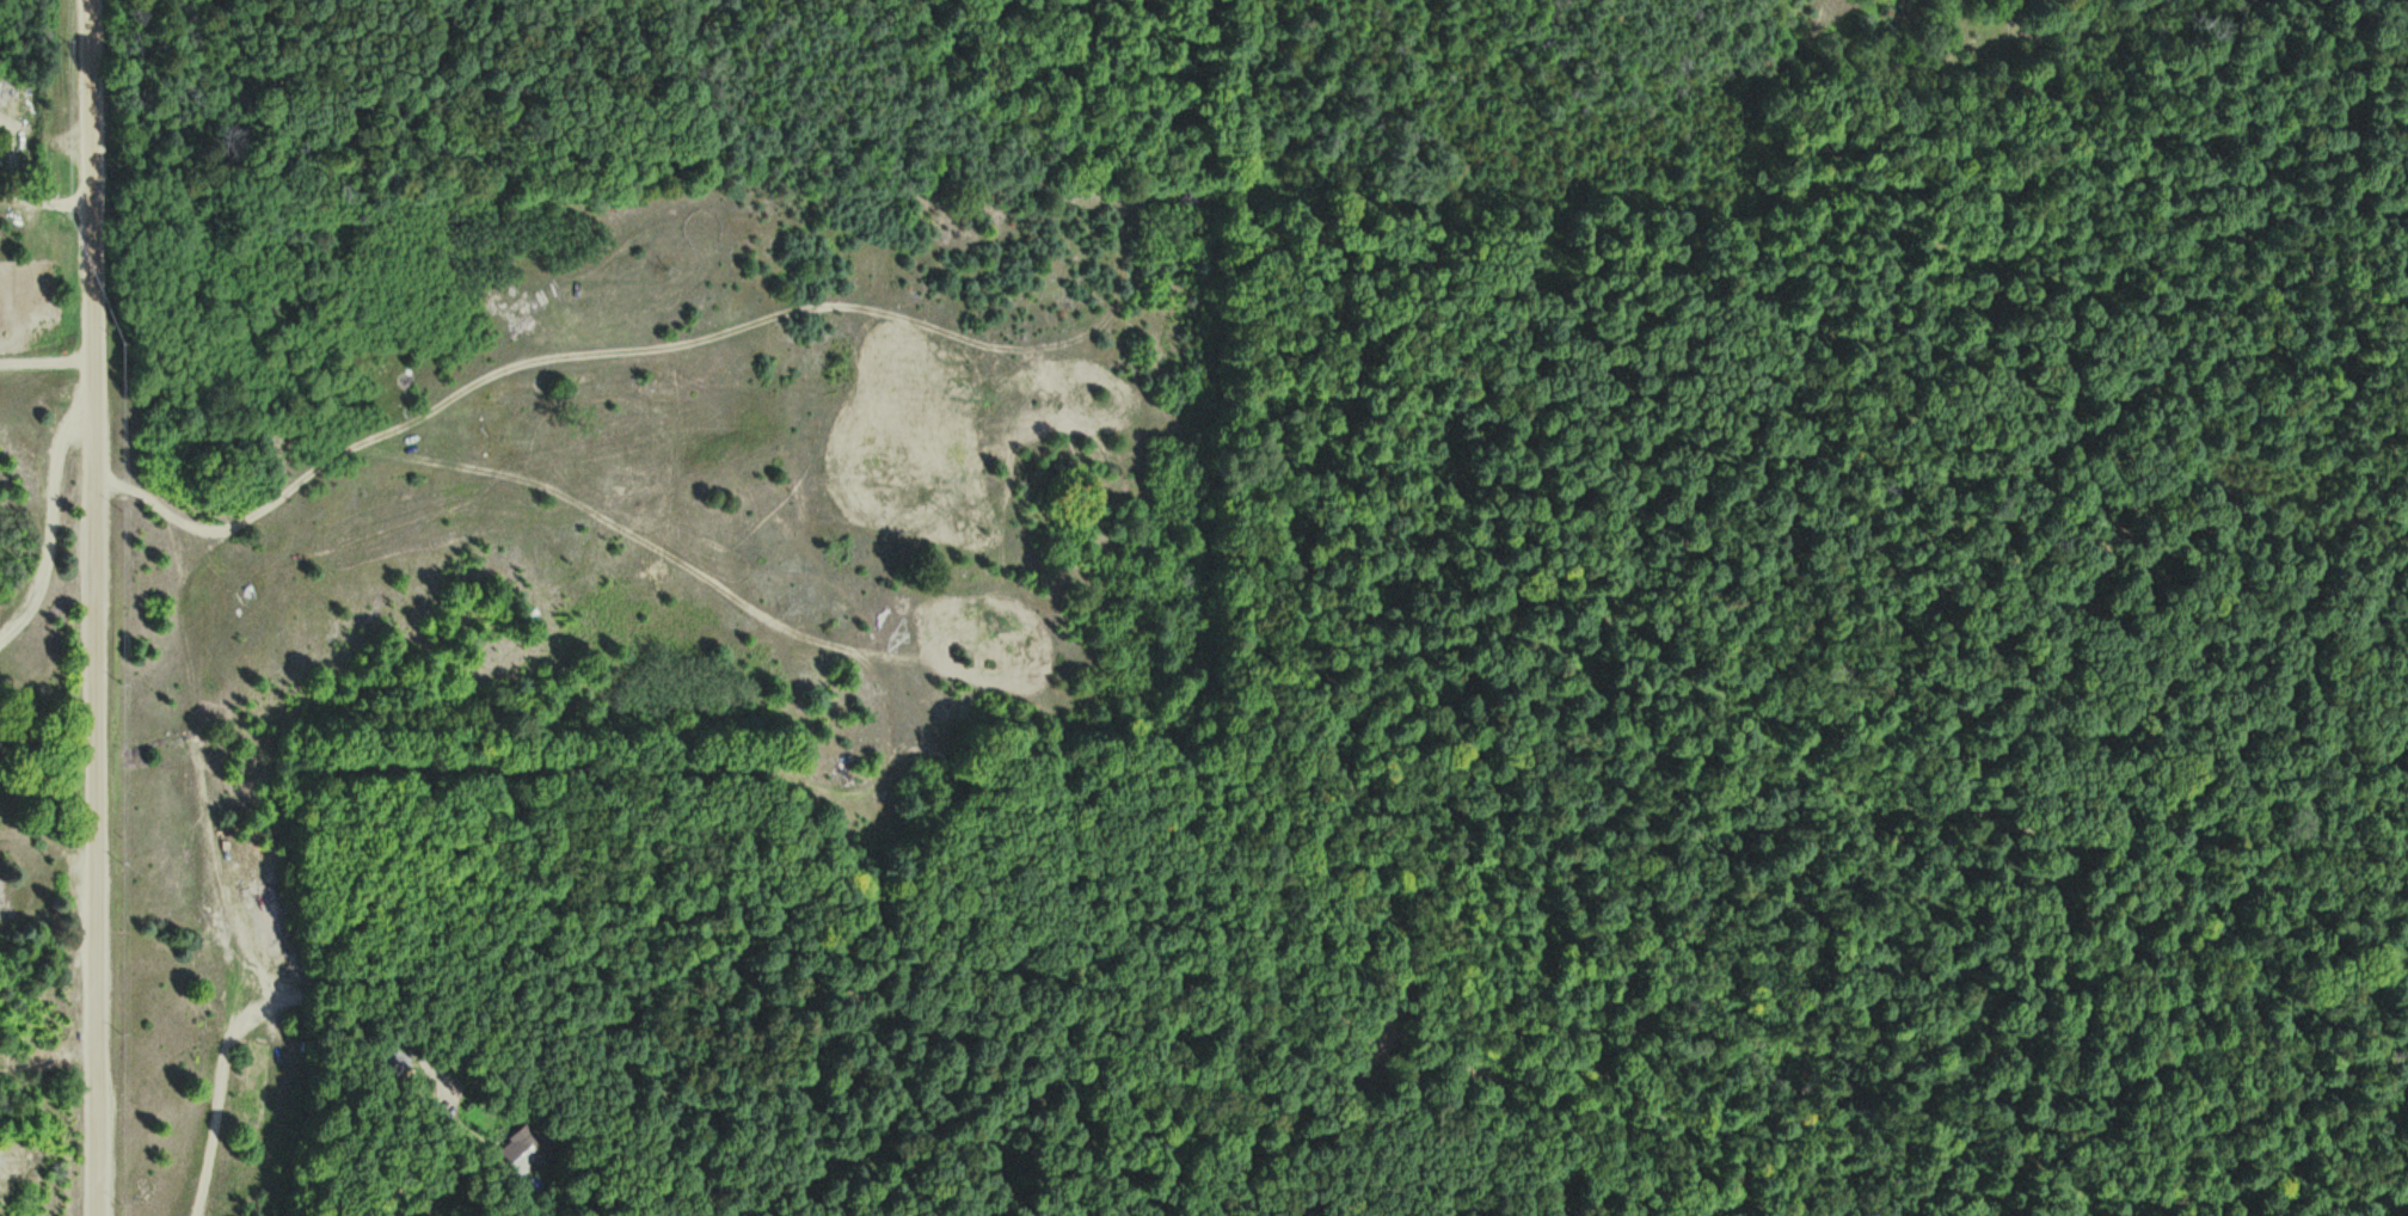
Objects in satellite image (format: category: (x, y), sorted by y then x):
road: (689, 432)
road: (97, 607)
building: (386, 1060)
building: (524, 1150)

